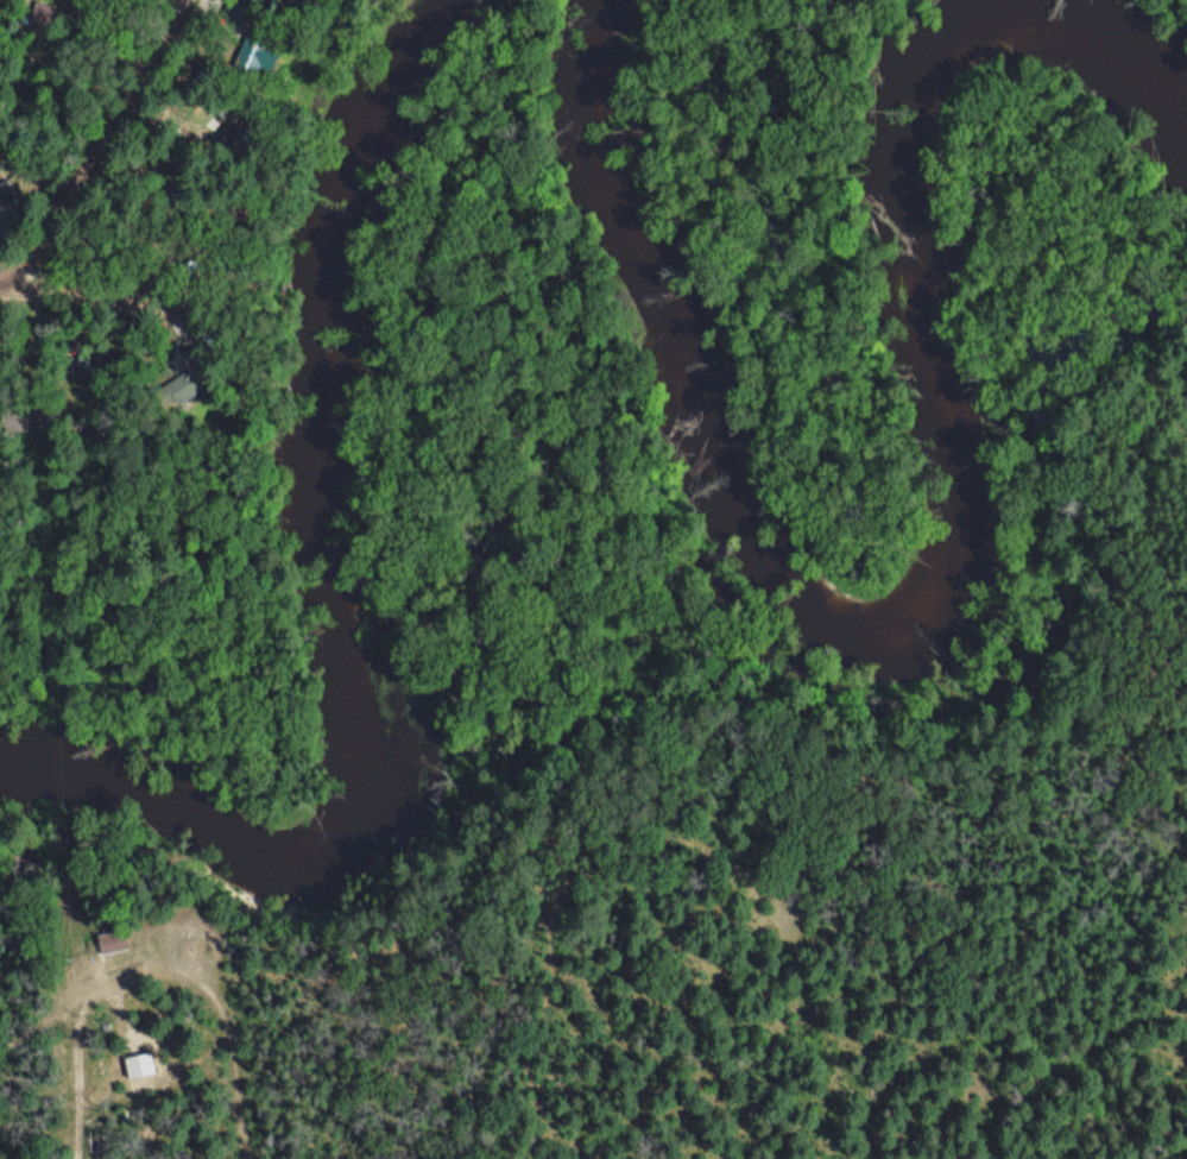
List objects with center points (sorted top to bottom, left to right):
building: (292, 1)
road: (97, 143)
building: (5, 189)
road: (7, 283)
building: (176, 389)
river: (943, 568)
river: (335, 593)
road: (694, 845)
road: (163, 1008)

